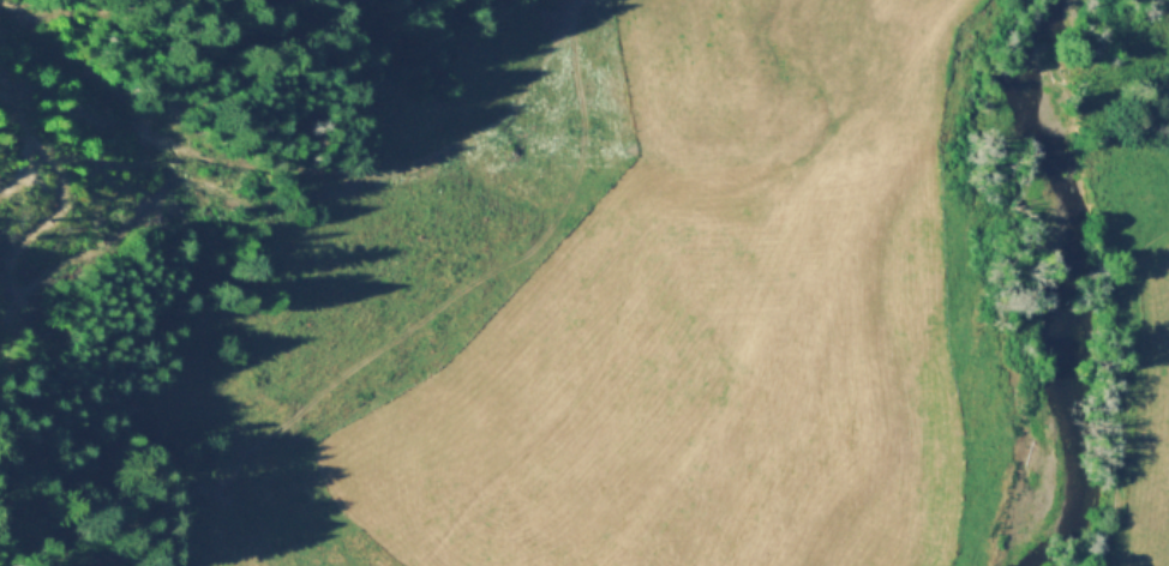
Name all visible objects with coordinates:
road: (451, 140)
river: (1054, 283)

